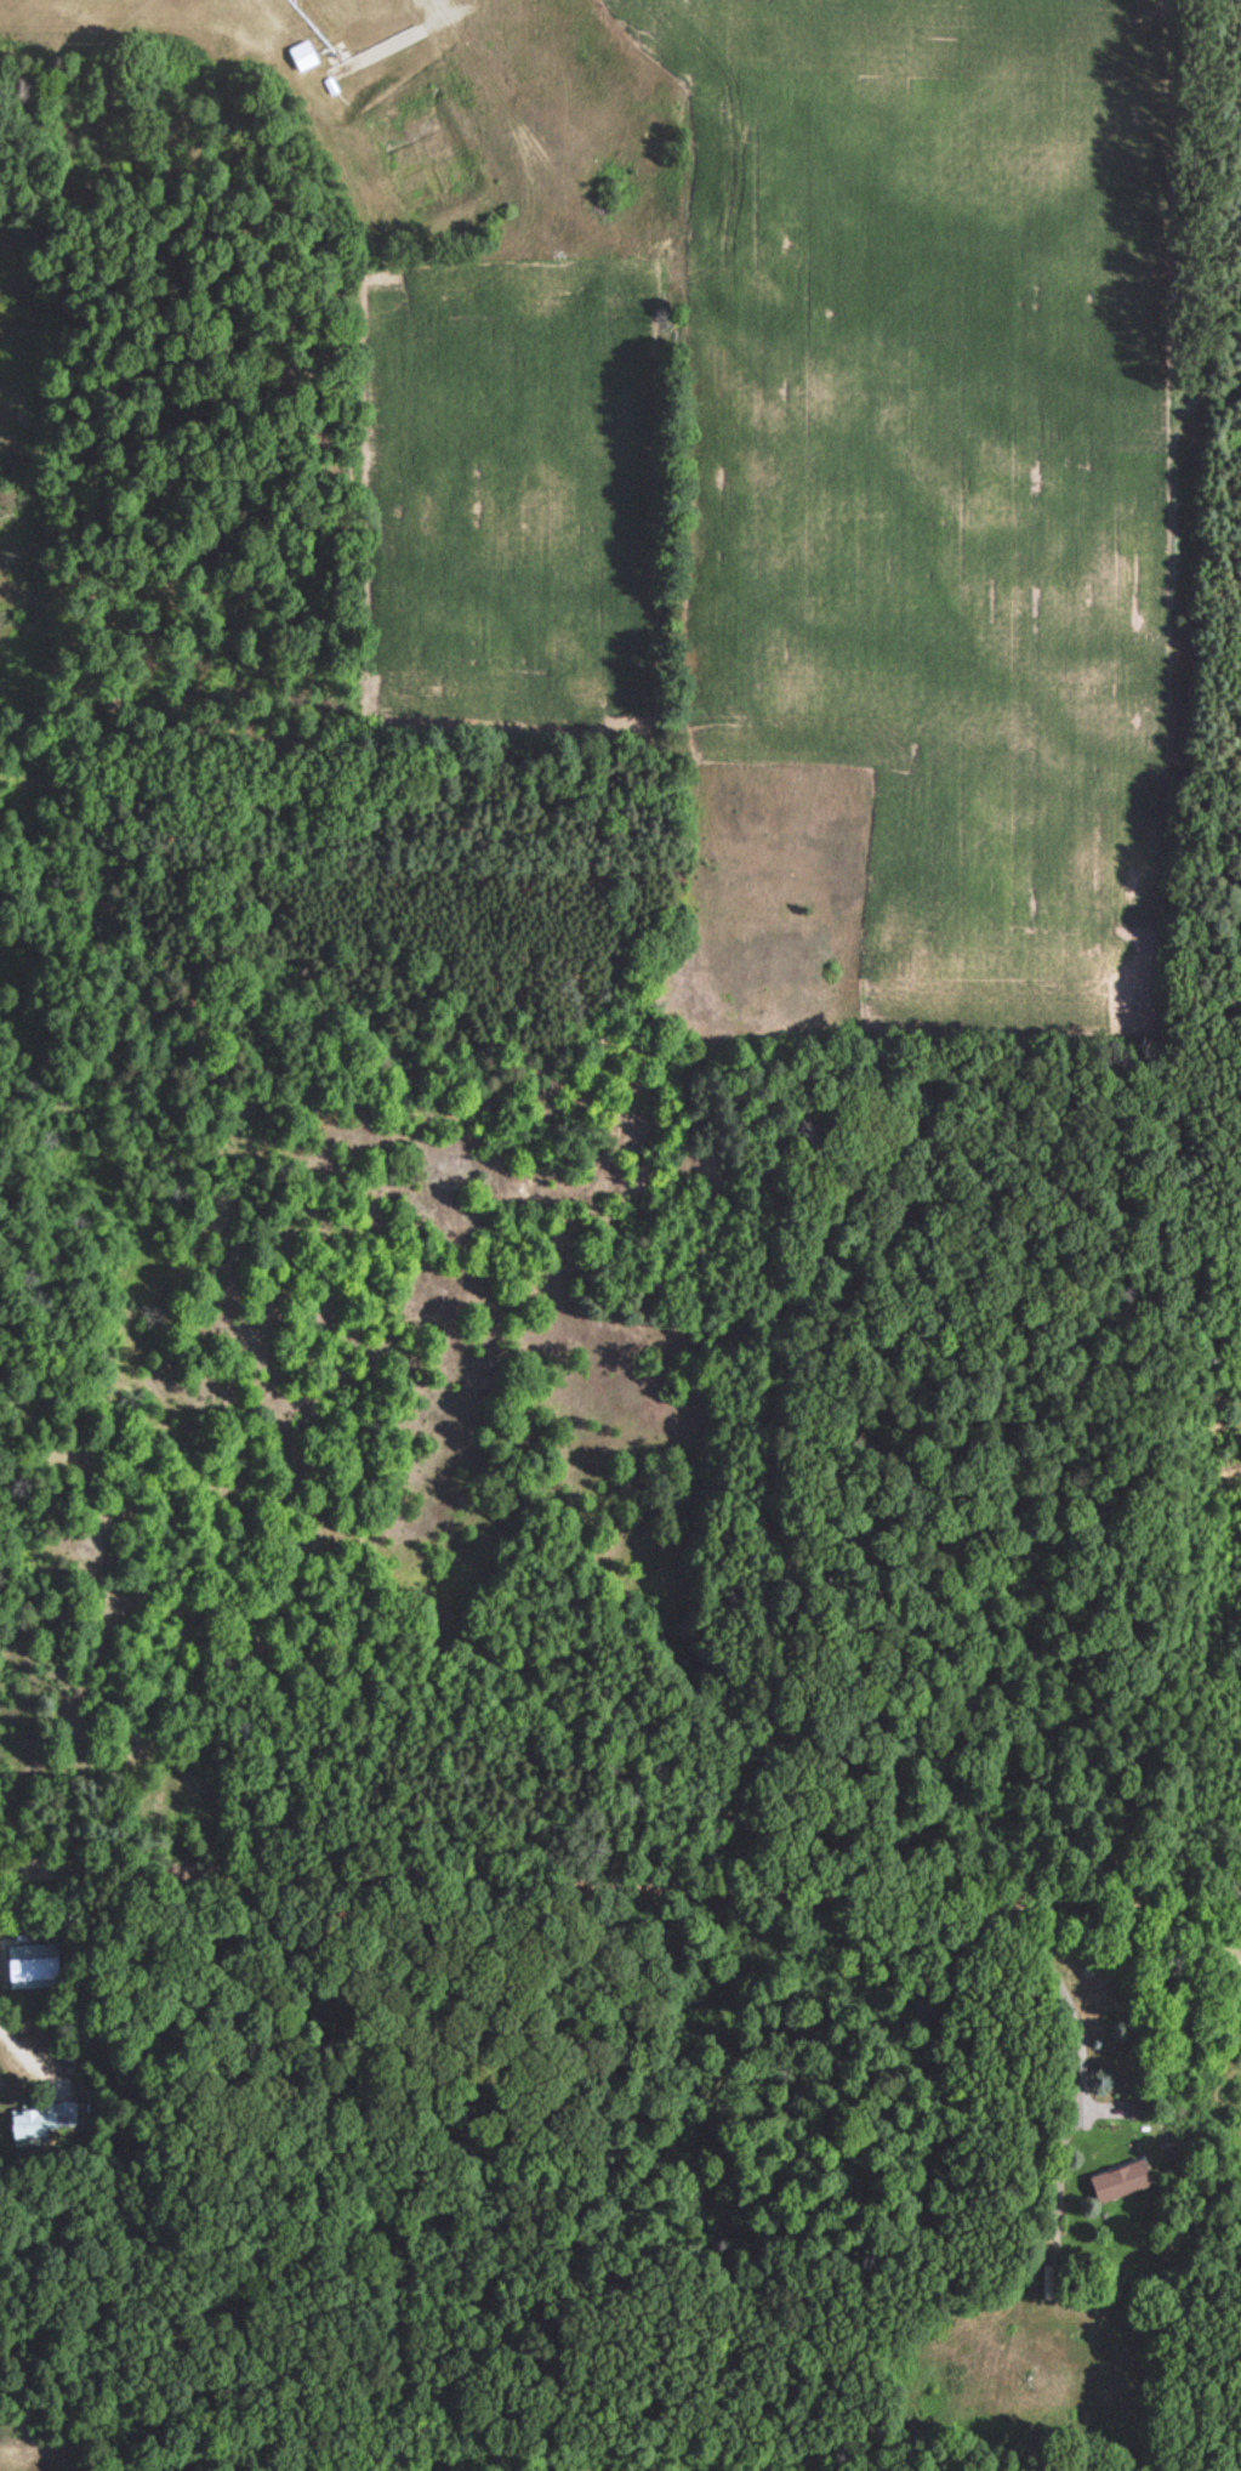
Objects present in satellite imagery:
building: (301, 56)
road: (620, 1858)
building: (33, 1967)
road: (717, 2061)
building: (46, 2123)
building: (1117, 2182)

